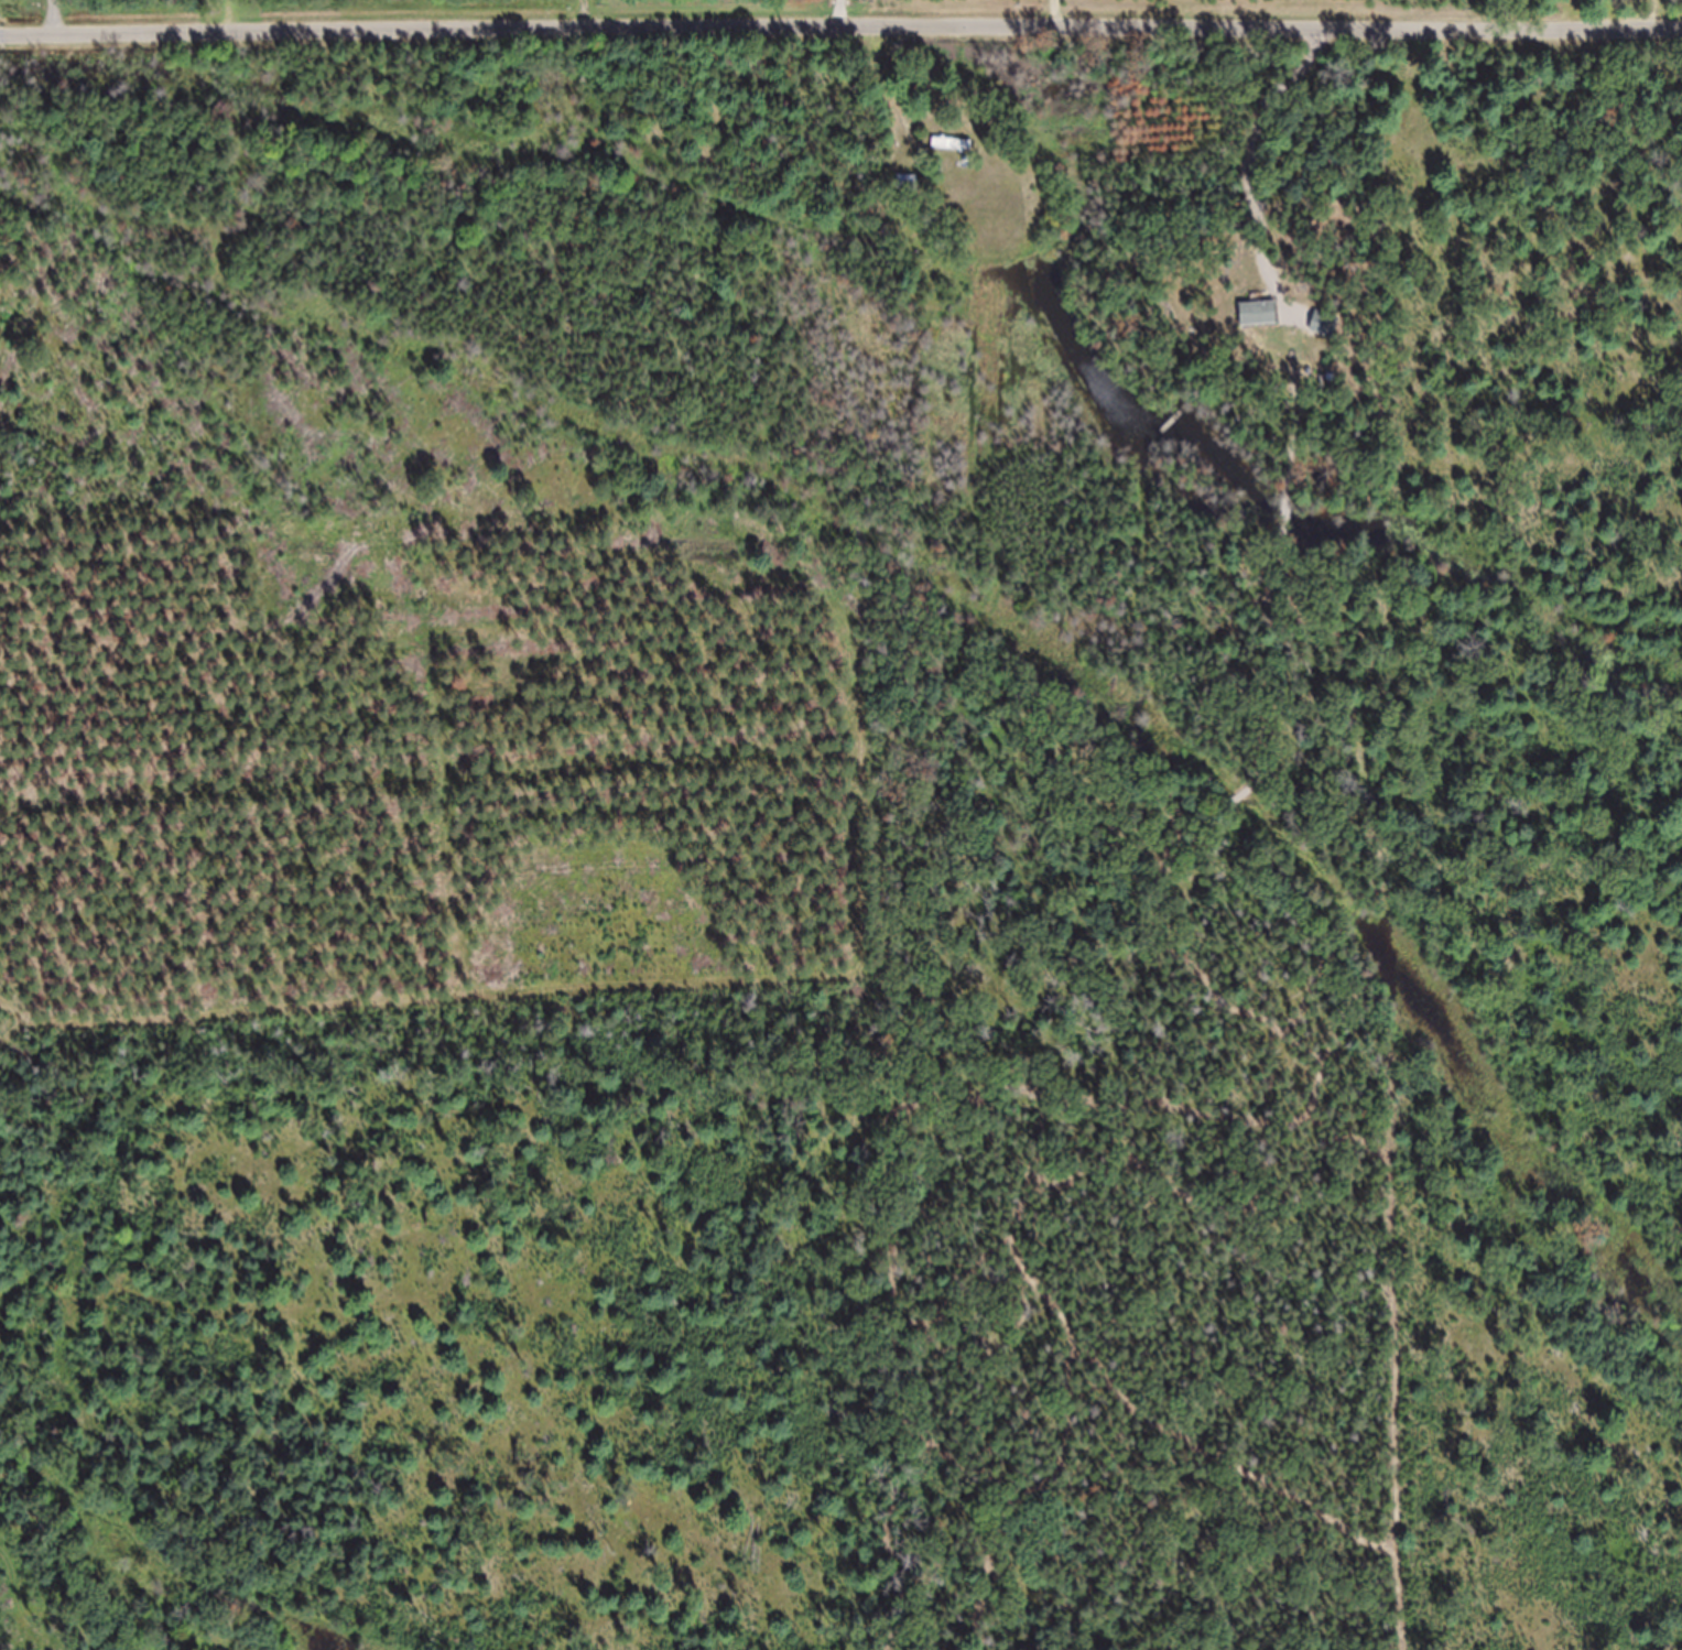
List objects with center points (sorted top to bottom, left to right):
road: (842, 25)
building: (953, 156)
building: (1259, 324)
building: (1325, 334)

